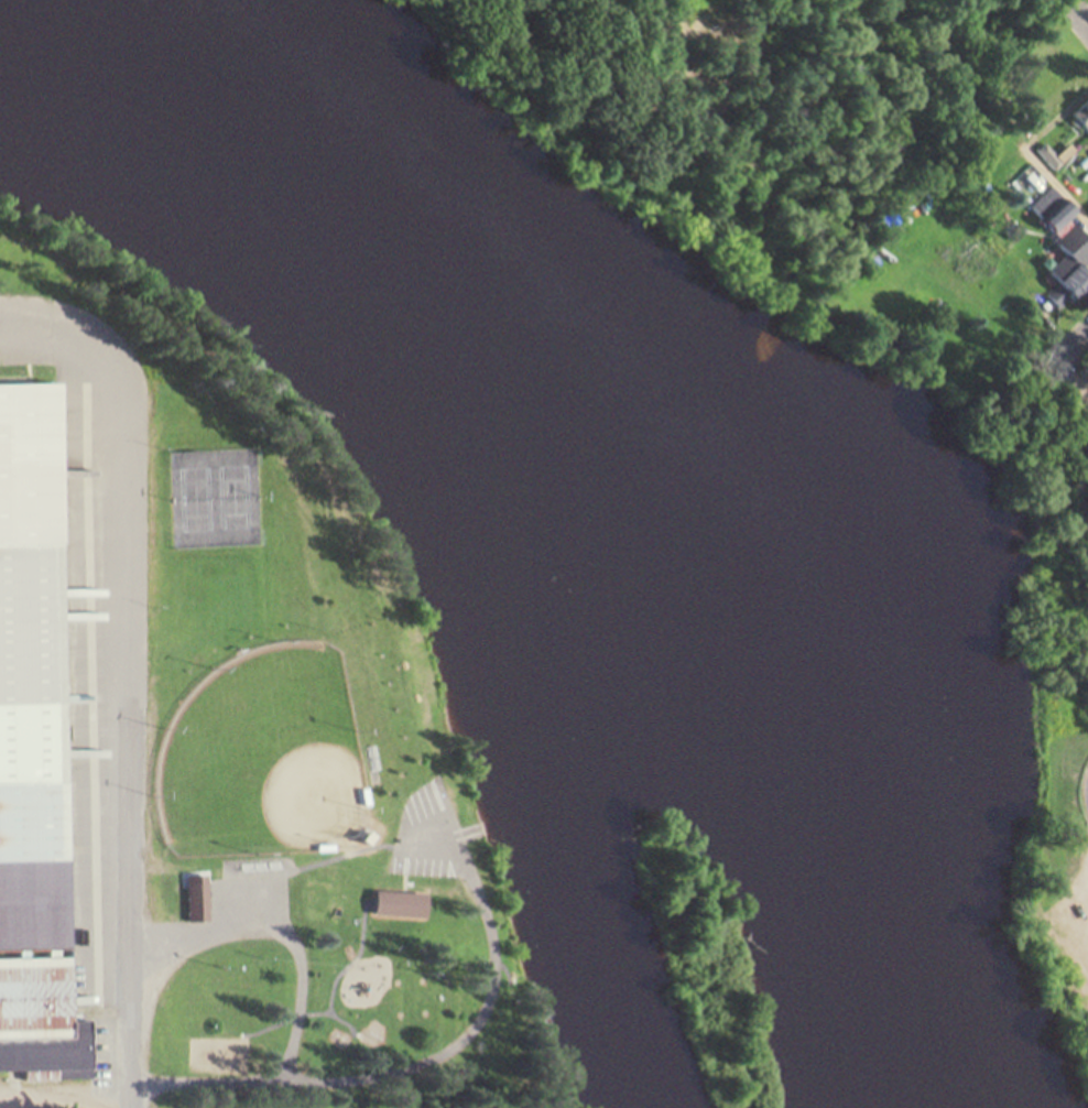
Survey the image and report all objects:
road: (1078, 6)
road: (1080, 19)
building: (1057, 156)
road: (1056, 182)
building: (1076, 254)
road: (1071, 335)
road: (69, 357)
road: (1074, 370)
road: (235, 373)
river: (594, 434)
building: (36, 676)
road: (131, 753)
park: (307, 757)
building: (402, 904)
building: (39, 1015)
road: (67, 1106)

